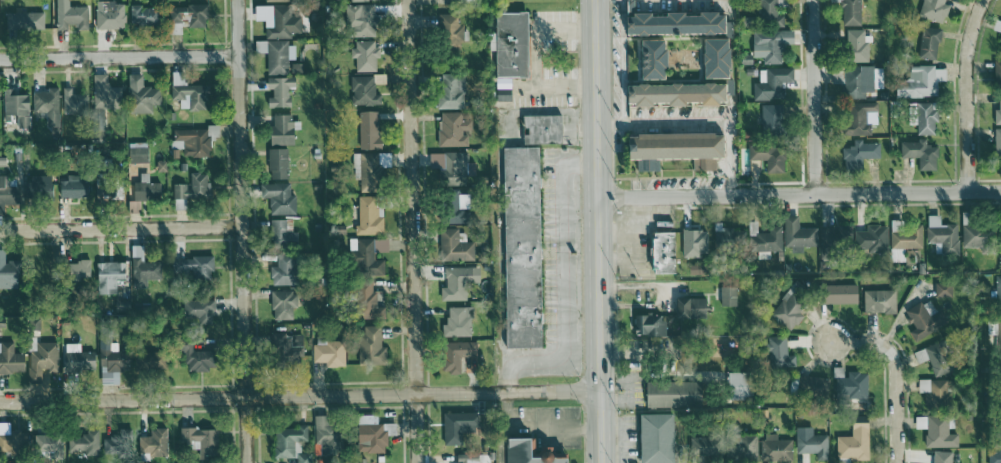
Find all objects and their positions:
building: (276, 0)
building: (362, 0)
building: (450, 1)
building: (934, 10)
building: (852, 12)
building: (771, 14)
building: (144, 15)
building: (70, 16)
building: (110, 16)
building: (187, 17)
building: (361, 20)
building: (278, 21)
building: (25, 22)
building: (678, 24)
building: (997, 26)
road: (536, 27)
building: (450, 31)
building: (930, 43)
building: (513, 45)
building: (771, 45)
building: (857, 46)
building: (1000, 47)
building: (277, 55)
building: (365, 55)
road: (119, 57)
building: (719, 58)
building: (656, 59)
road: (622, 61)
building: (998, 74)
building: (925, 80)
building: (862, 82)
building: (772, 84)
road: (544, 86)
building: (366, 90)
building: (280, 91)
building: (452, 91)
building: (106, 94)
building: (189, 94)
building: (504, 94)
building: (678, 94)
road: (966, 94)
building: (142, 95)
road: (814, 97)
building: (74, 102)
building: (16, 109)
building: (48, 110)
building: (998, 114)
building: (913, 116)
building: (774, 117)
building: (927, 119)
building: (859, 121)
road: (699, 123)
building: (454, 129)
building: (543, 129)
building: (284, 130)
building: (370, 131)
building: (194, 142)
building: (998, 144)
building: (679, 149)
building: (138, 152)
building: (860, 154)
building: (921, 154)
building: (770, 156)
building: (278, 164)
building: (161, 166)
building: (454, 169)
building: (73, 187)
building: (40, 189)
building: (146, 190)
building: (111, 191)
building: (7, 193)
road: (800, 194)
building: (280, 198)
building: (459, 216)
building: (370, 218)
road: (121, 229)
road: (242, 231)
road: (412, 231)
road: (599, 231)
building: (283, 234)
building: (799, 235)
building: (978, 235)
building: (905, 236)
building: (943, 236)
building: (724, 237)
building: (765, 238)
building: (873, 239)
building: (835, 240)
building: (694, 242)
building: (456, 246)
building: (524, 247)
building: (666, 253)
building: (898, 255)
building: (369, 259)
building: (143, 268)
building: (194, 268)
building: (80, 269)
building: (1000, 269)
building: (285, 270)
building: (8, 272)
building: (110, 276)
building: (459, 283)
road: (565, 287)
building: (944, 289)
building: (999, 293)
building: (843, 294)
building: (729, 297)
building: (880, 301)
building: (371, 303)
building: (284, 305)
building: (693, 308)
building: (199, 311)
building: (789, 311)
building: (458, 322)
building: (923, 322)
building: (650, 325)
building: (998, 333)
building: (372, 346)
building: (287, 348)
building: (331, 352)
building: (780, 353)
building: (194, 355)
building: (460, 355)
building: (937, 358)
building: (11, 359)
building: (78, 359)
building: (156, 362)
building: (113, 363)
road: (896, 374)
building: (741, 386)
building: (813, 386)
building: (850, 386)
building: (936, 393)
building: (676, 394)
road: (301, 399)
building: (460, 427)
road: (539, 427)
building: (938, 431)
building: (328, 436)
building: (659, 438)
building: (372, 439)
building: (289, 440)
building: (856, 441)
building: (14, 442)
building: (201, 442)
building: (46, 443)
building: (85, 443)
building: (154, 443)
building: (812, 443)
building: (112, 445)
building: (705, 446)
building: (744, 447)
building: (776, 448)
building: (532, 453)
building: (995, 456)
building: (943, 457)

